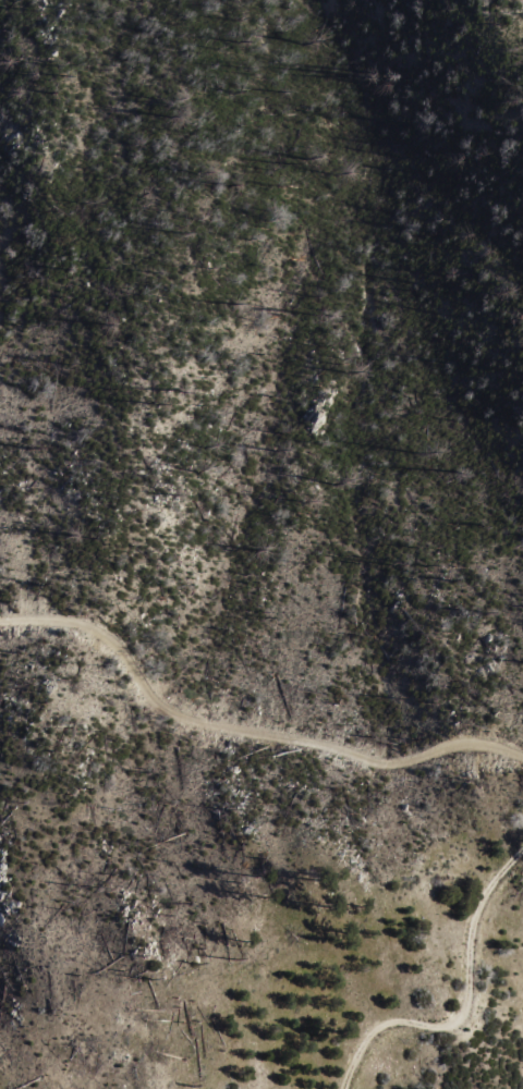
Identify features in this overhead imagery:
road: (316, 5)
road: (242, 736)
road: (462, 1000)

